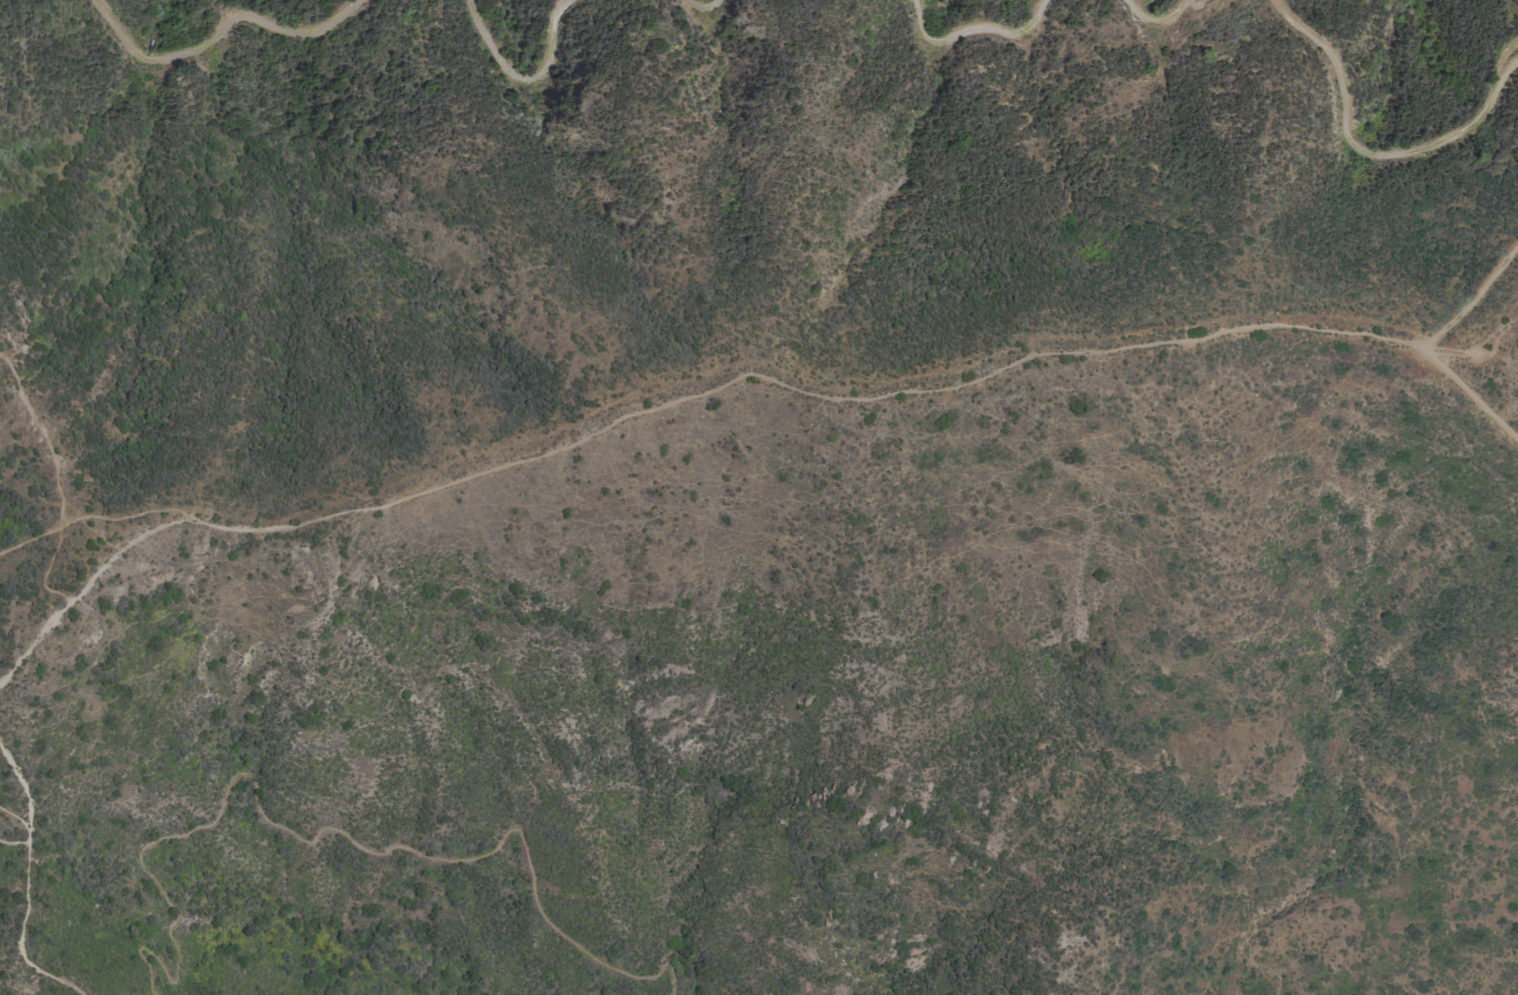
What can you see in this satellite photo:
road: (702, 10)
road: (1158, 21)
road: (972, 29)
road: (218, 34)
road: (1504, 52)
road: (521, 80)
road: (1368, 156)
road: (1474, 298)
road: (1452, 348)
road: (1471, 394)
road: (681, 400)
road: (58, 486)
road: (114, 513)
road: (17, 815)
road: (13, 845)
road: (311, 847)
road: (27, 884)

